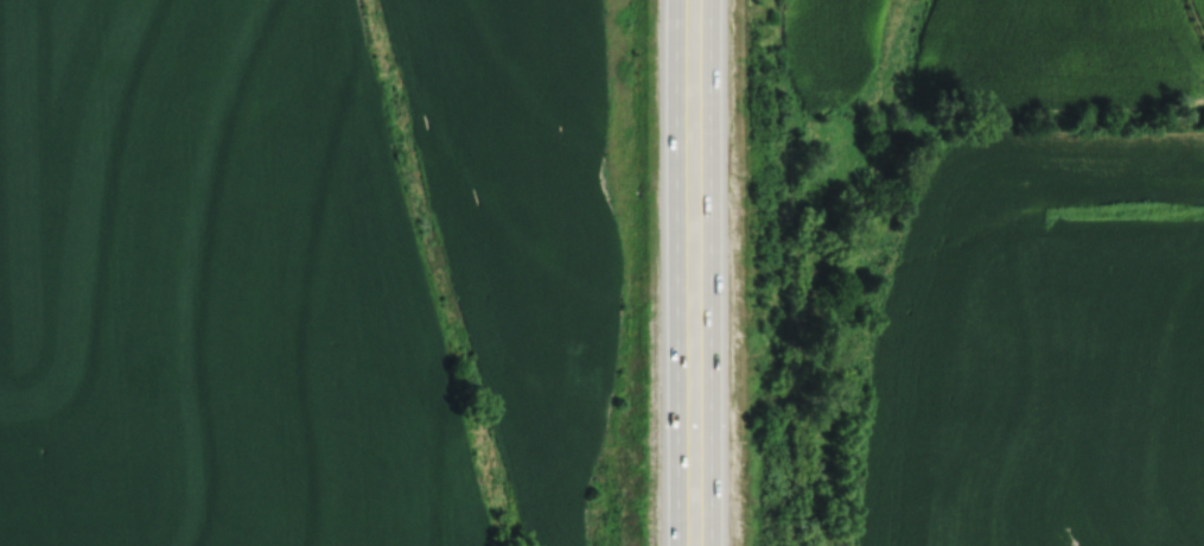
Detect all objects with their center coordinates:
road: (706, 272)
road: (673, 273)

